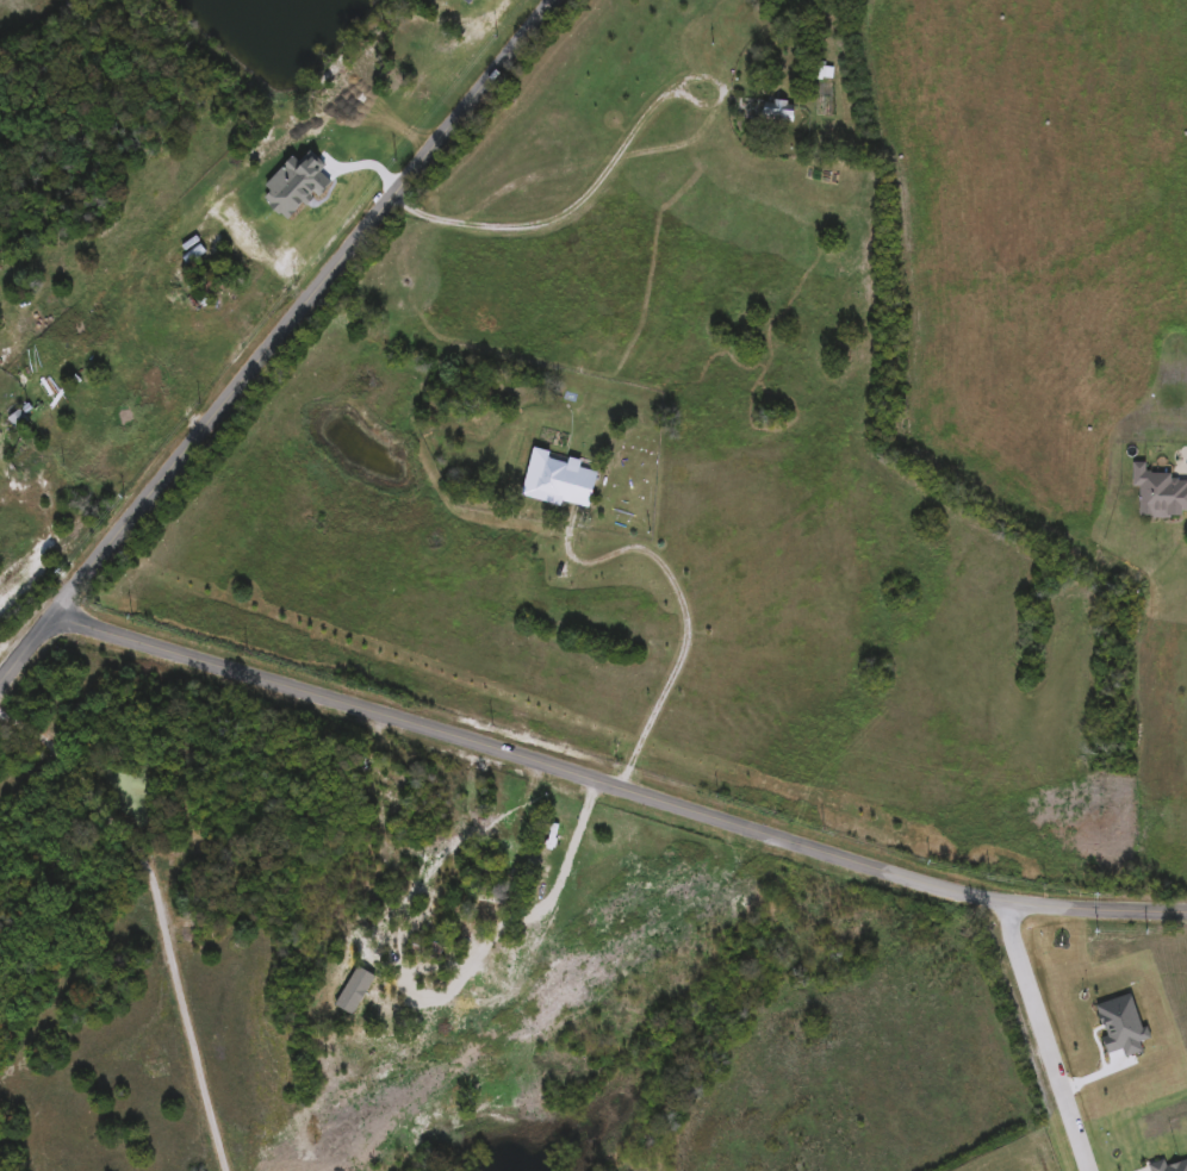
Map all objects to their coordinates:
building: (821, 74)
building: (776, 112)
road: (604, 176)
road: (279, 342)
building: (1158, 493)
road: (689, 615)
road: (620, 781)
road: (161, 914)
road: (1050, 1036)

